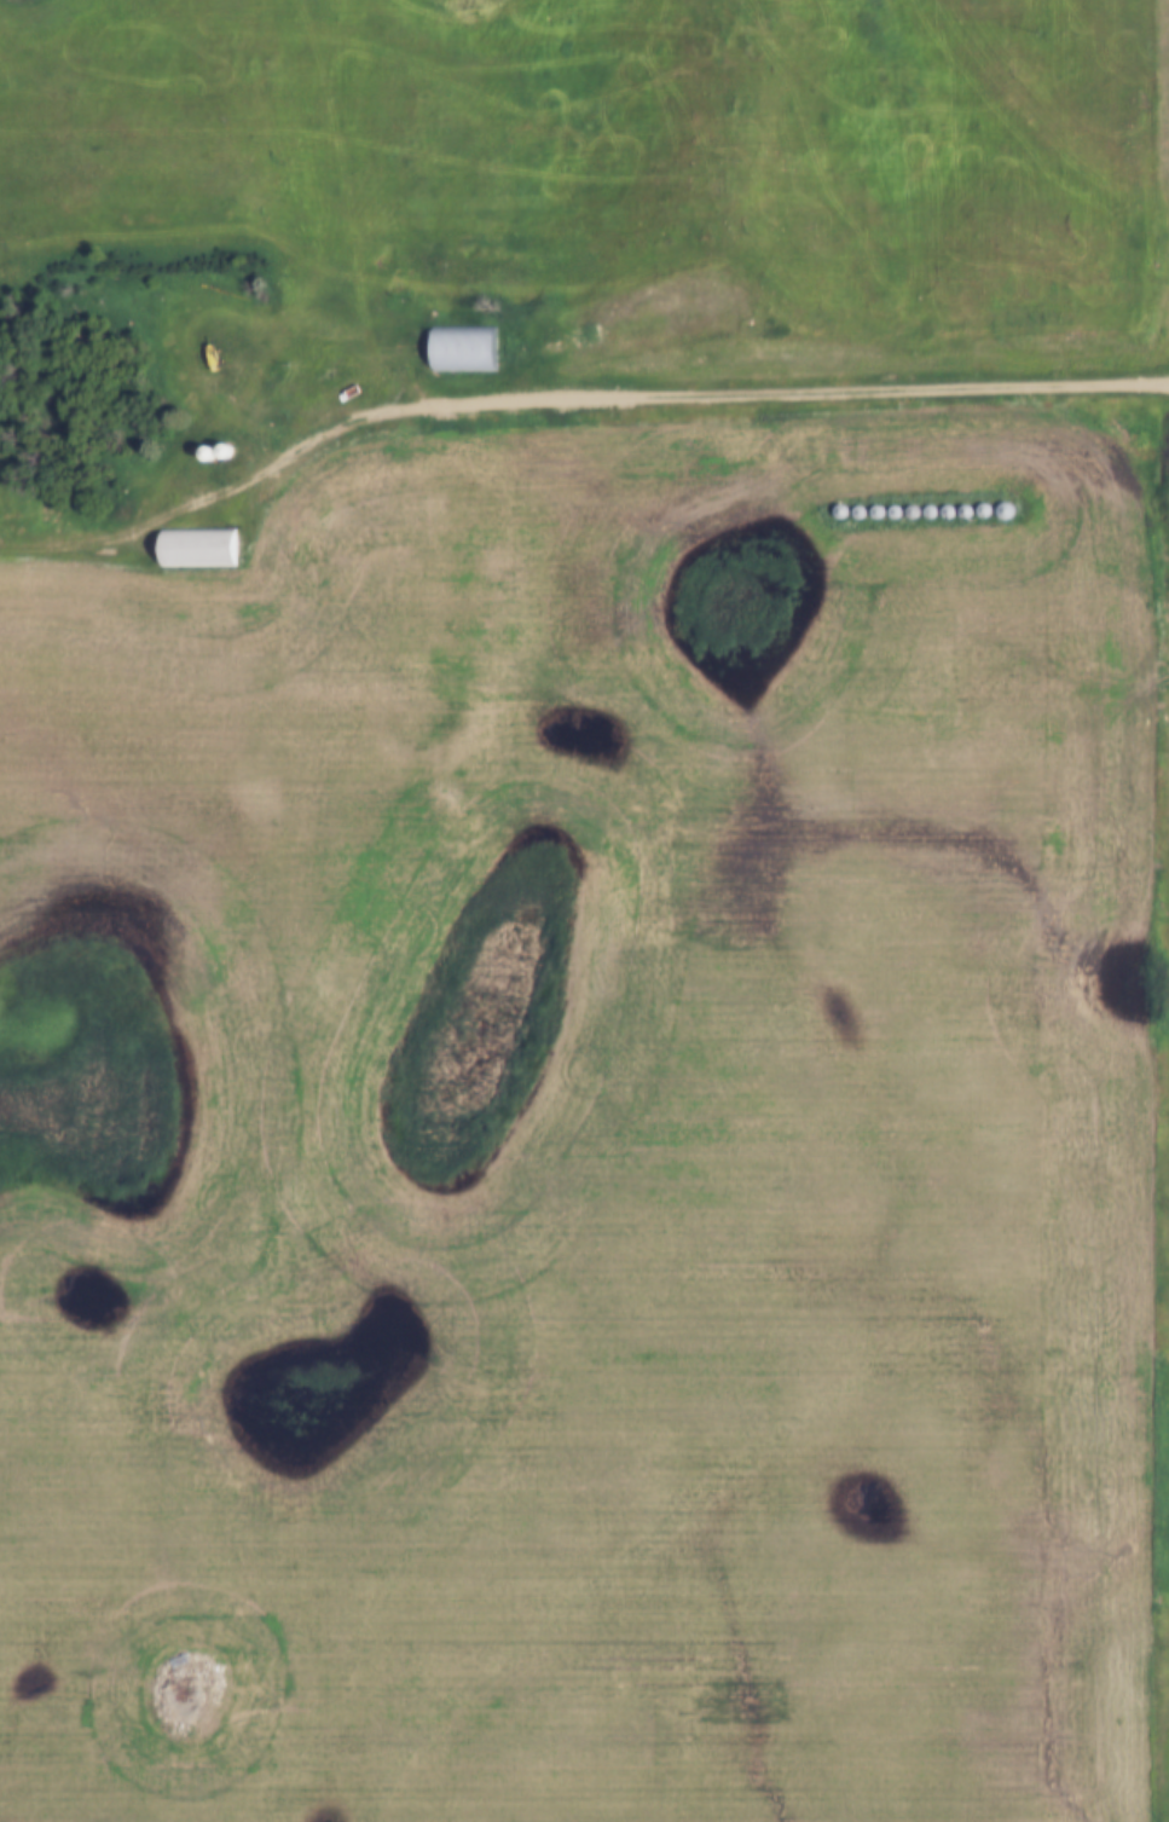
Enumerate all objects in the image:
building: (464, 348)
road: (667, 397)
road: (97, 538)
building: (197, 545)

